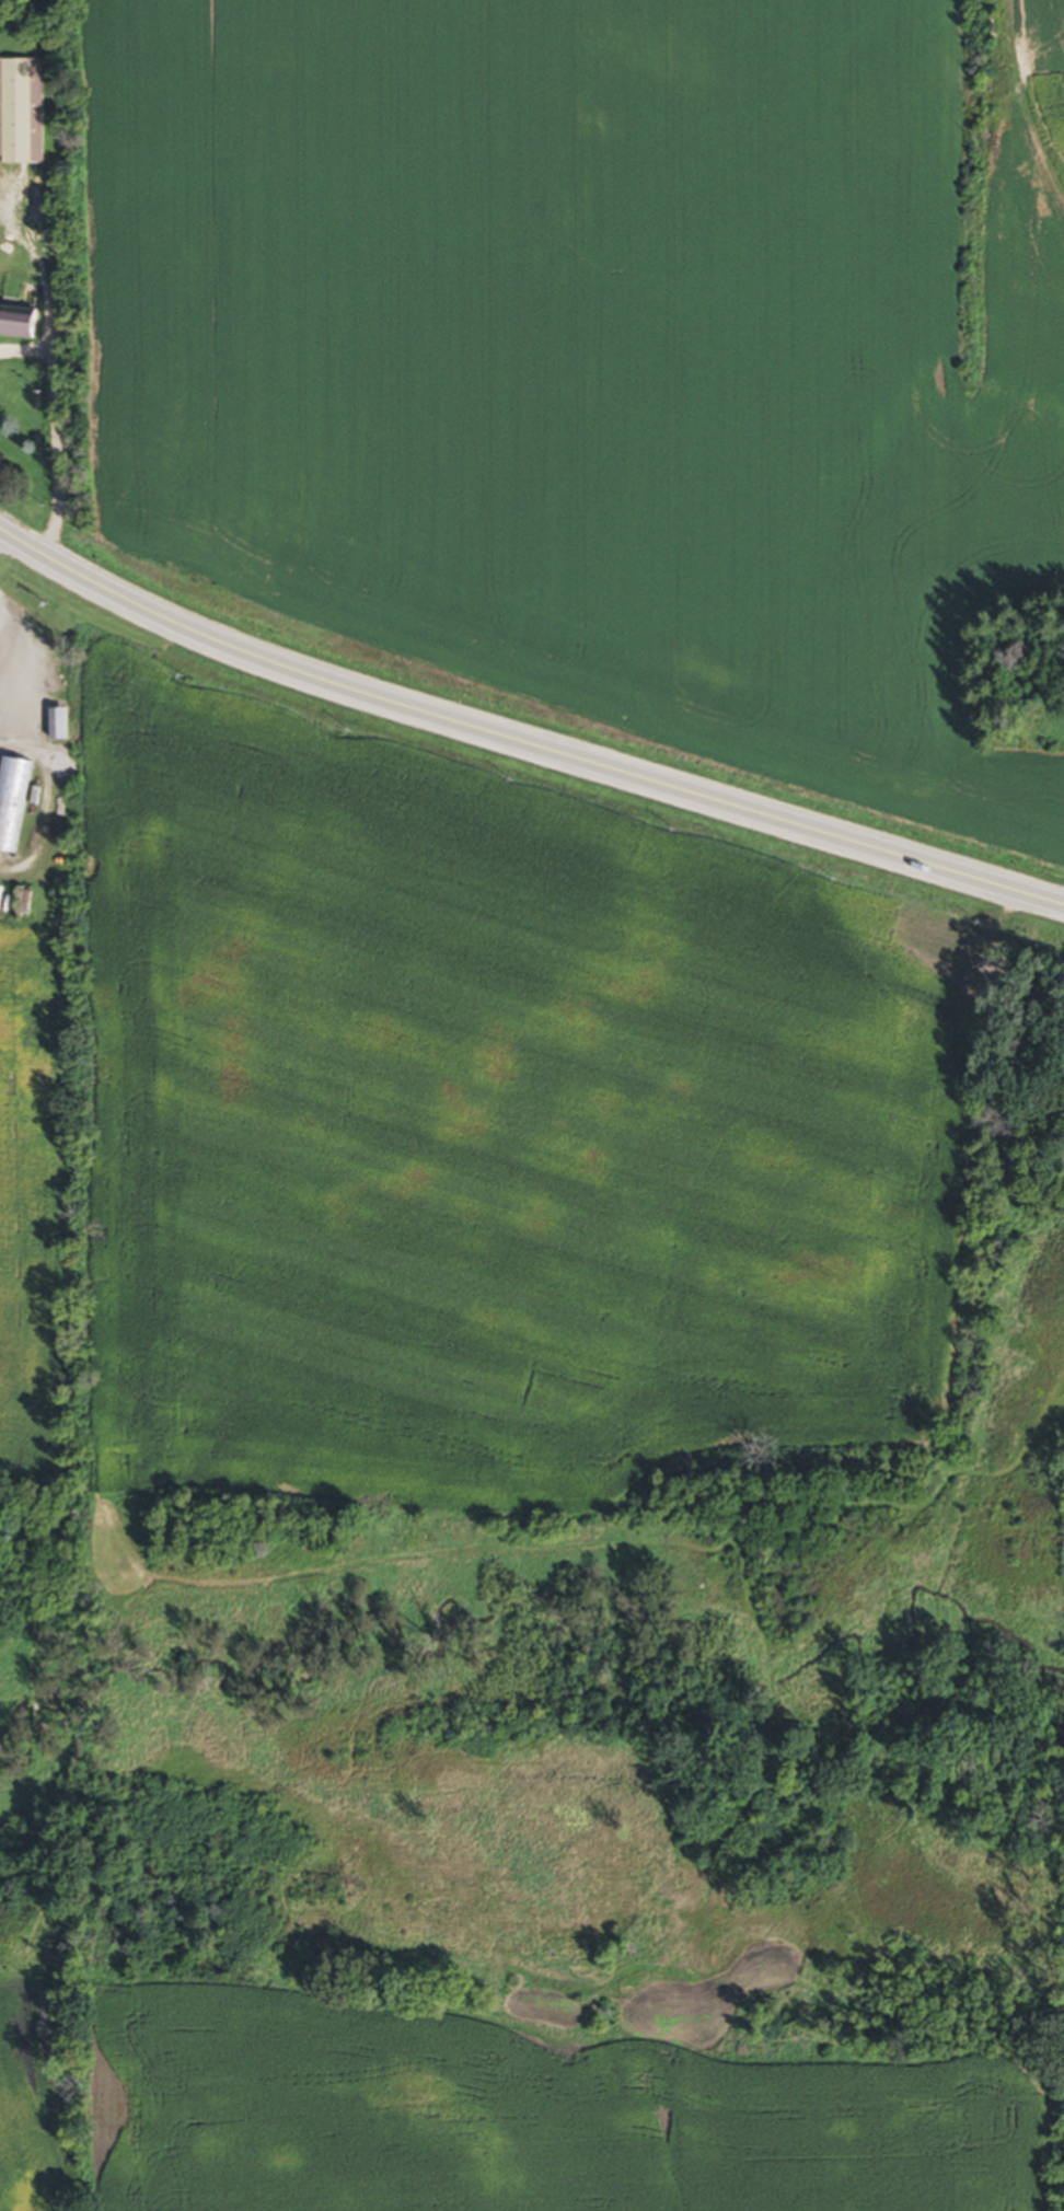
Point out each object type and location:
building: (21, 114)
building: (23, 327)
road: (49, 430)
building: (57, 728)
road: (521, 743)
road: (37, 753)
building: (12, 803)

